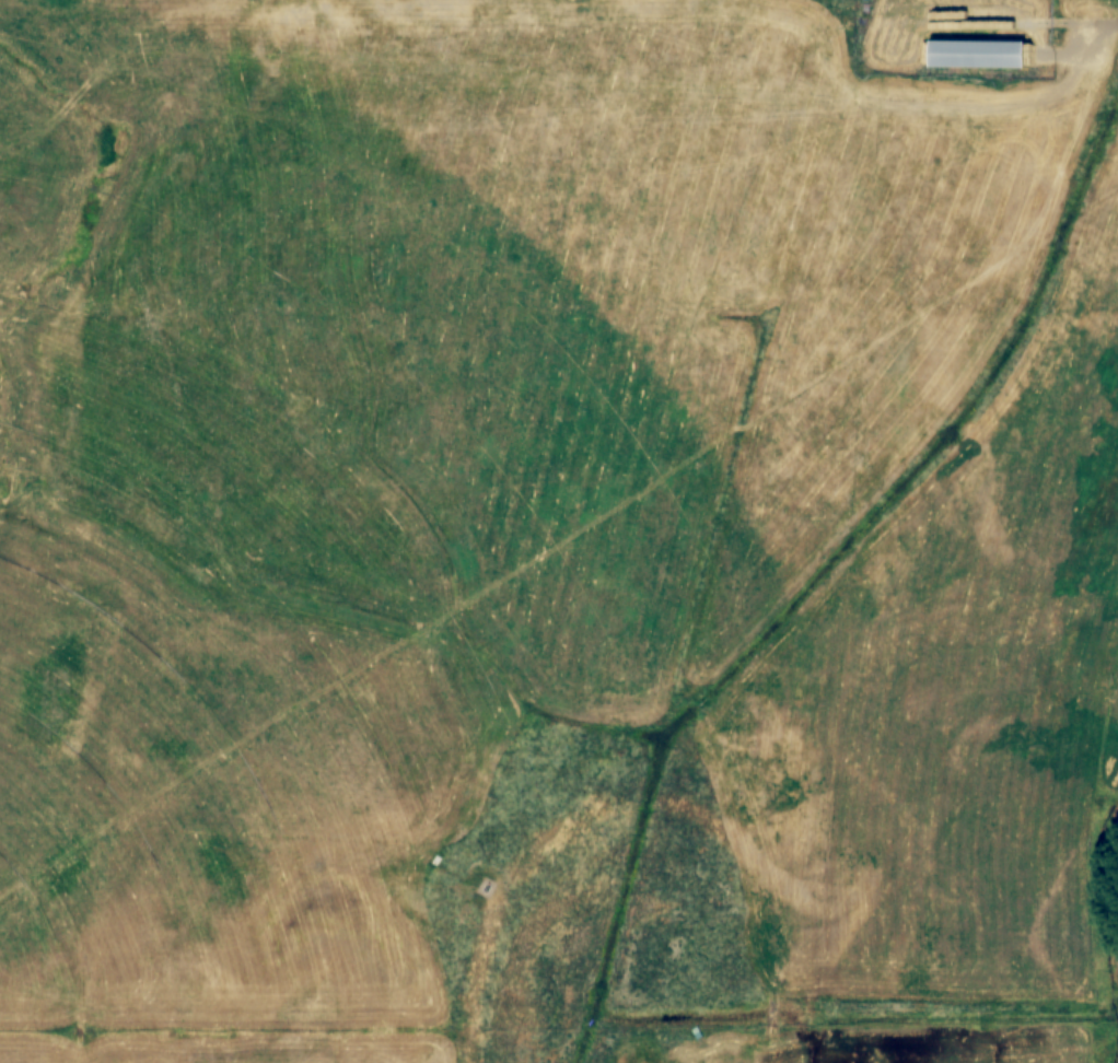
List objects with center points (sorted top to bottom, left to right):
building: (976, 55)

